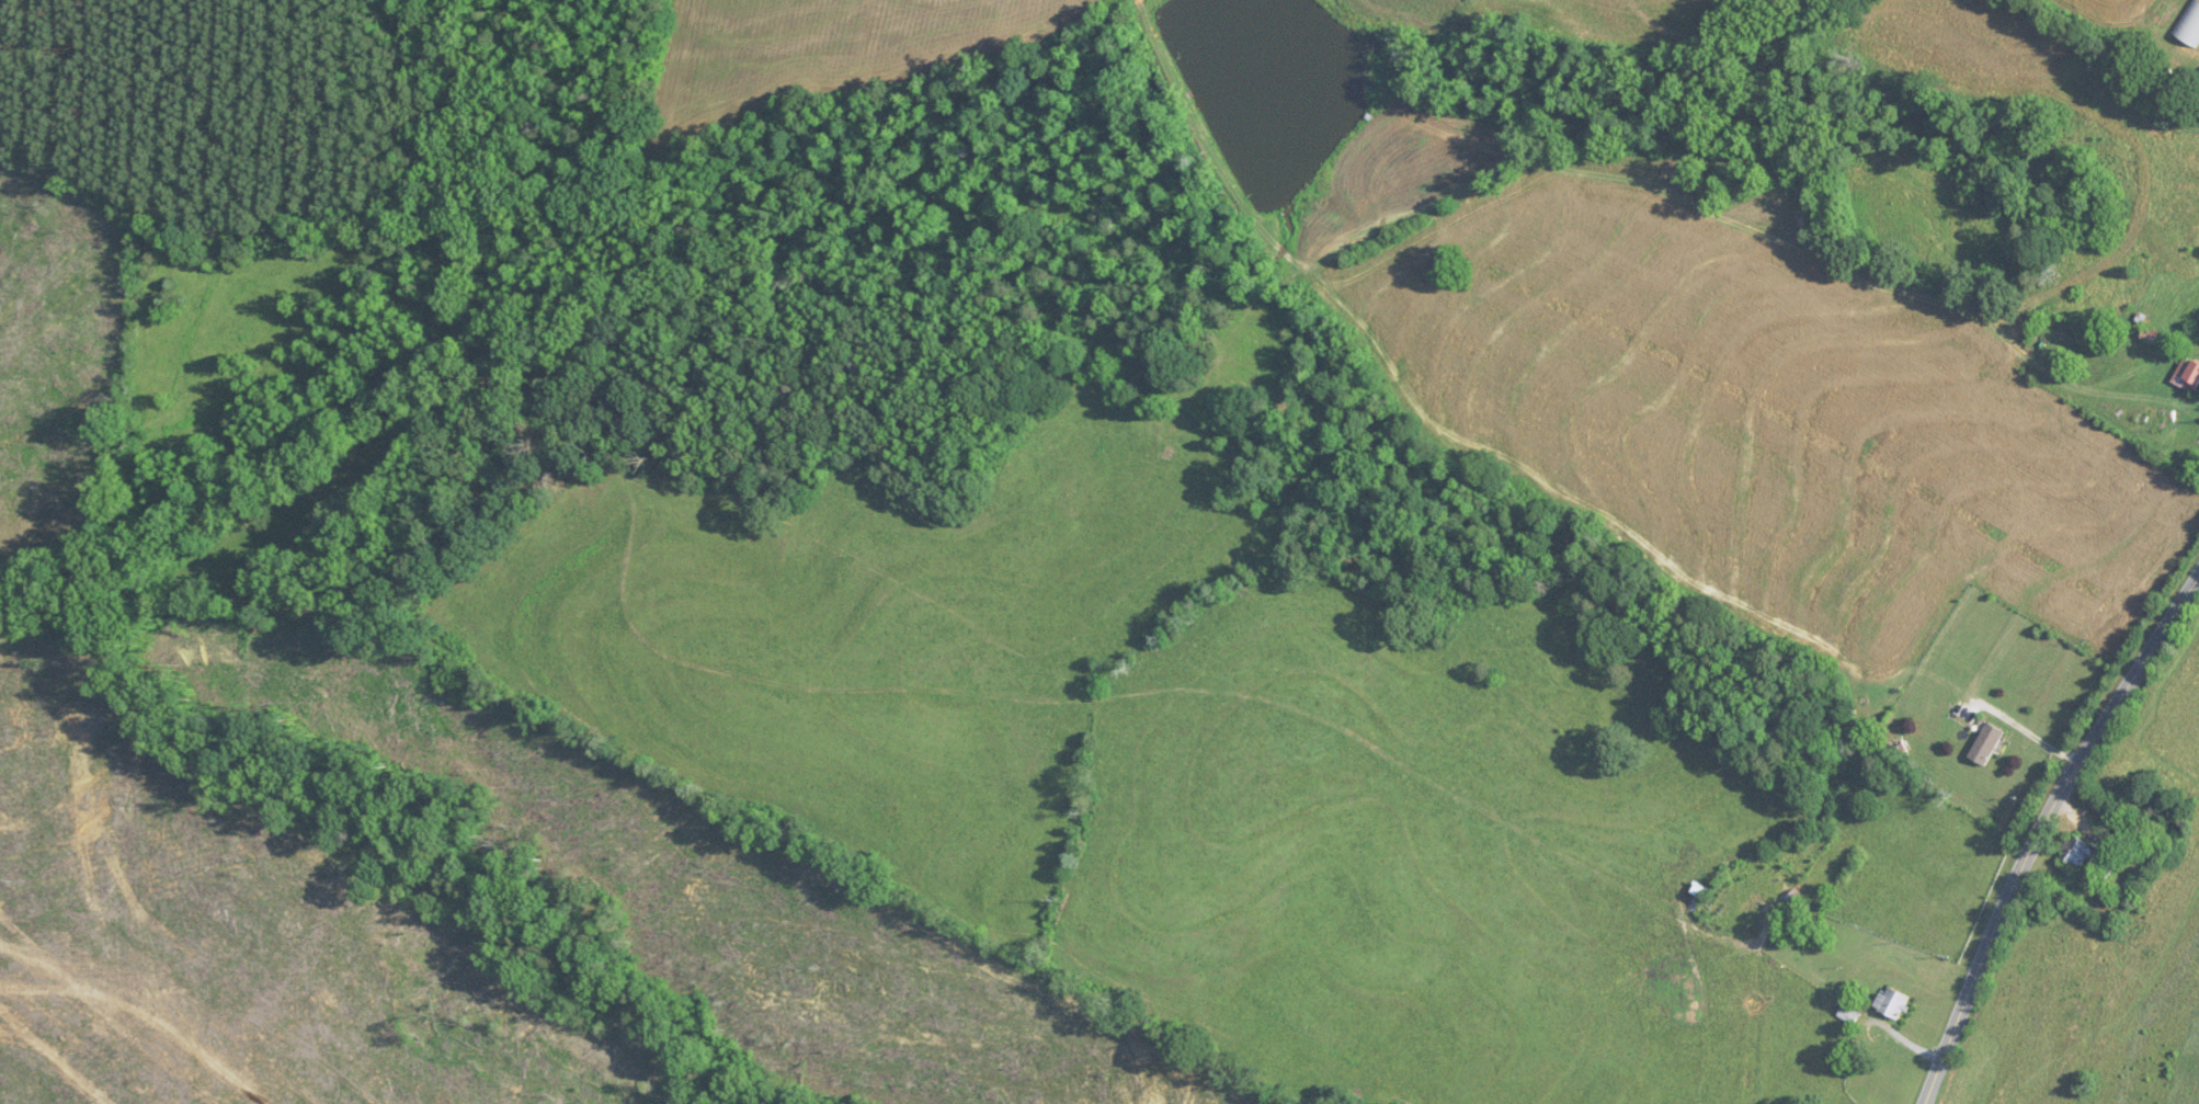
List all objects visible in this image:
building: (2189, 24)
building: (2187, 375)
road: (2033, 733)
building: (1987, 744)
road: (2041, 828)
building: (2080, 851)
building: (1799, 907)
building: (1893, 1003)
building: (1849, 1015)

